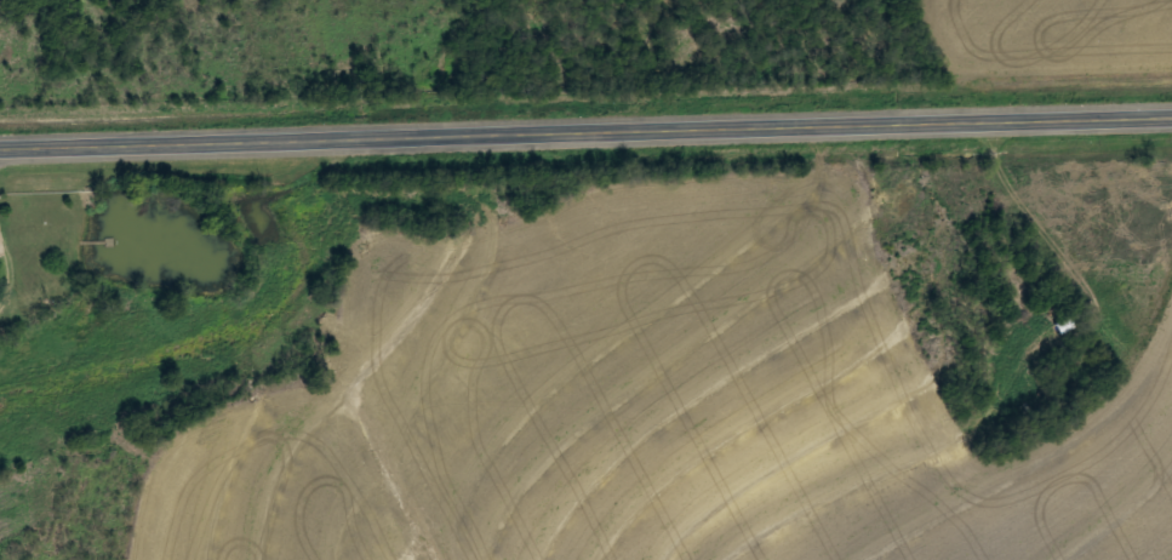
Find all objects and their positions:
road: (585, 131)
building: (1065, 364)

